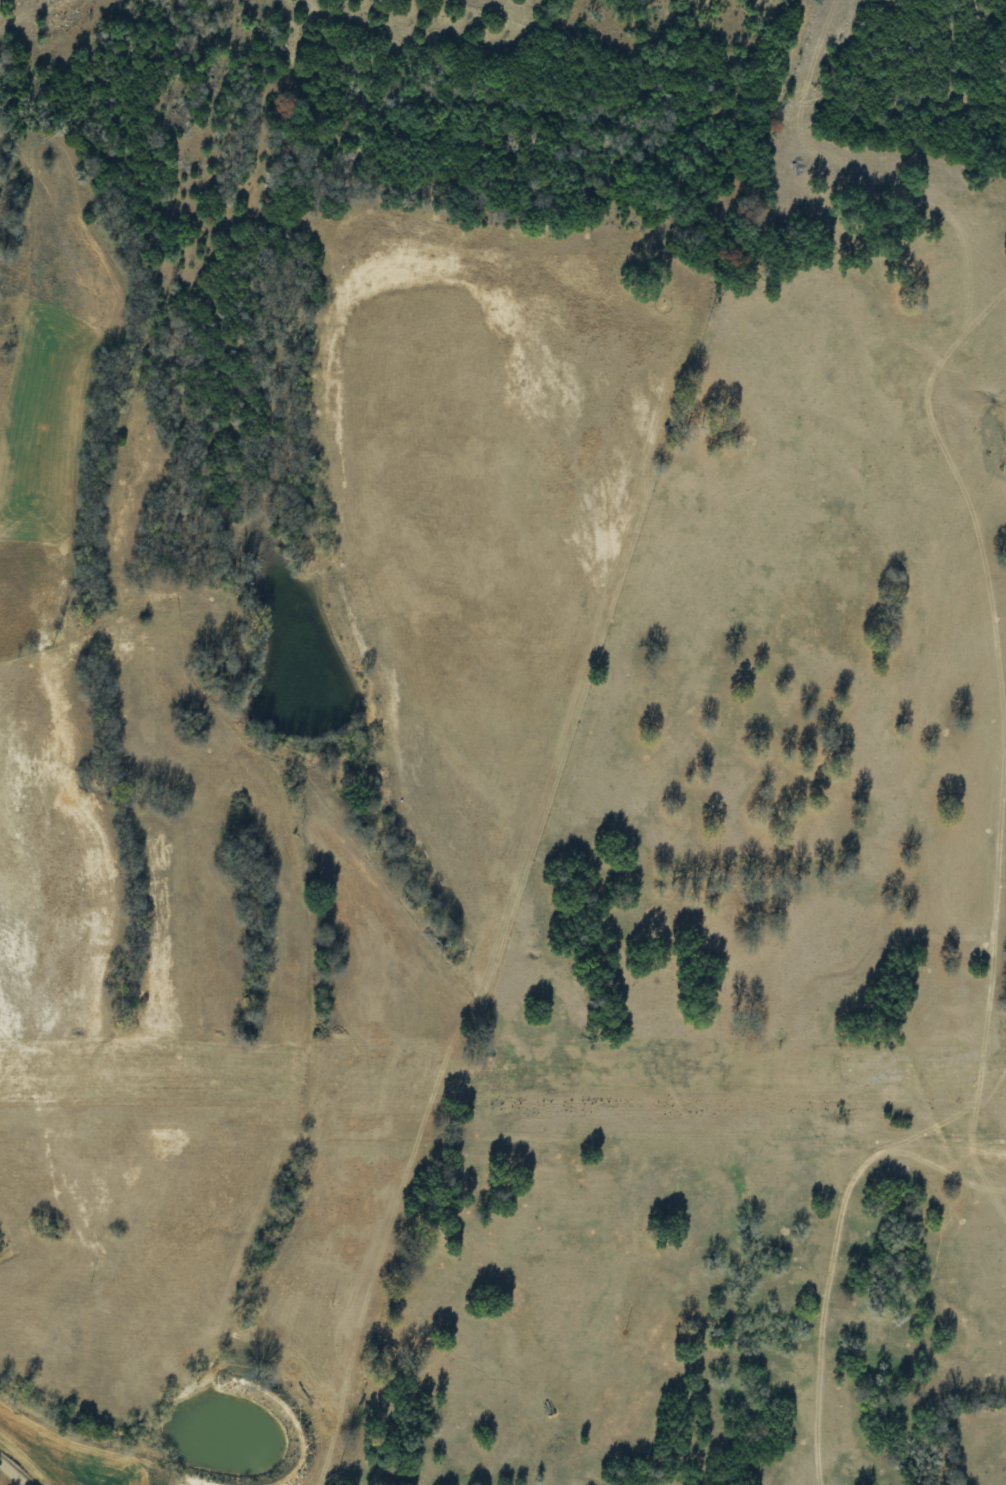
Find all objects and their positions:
road: (11, 1474)

